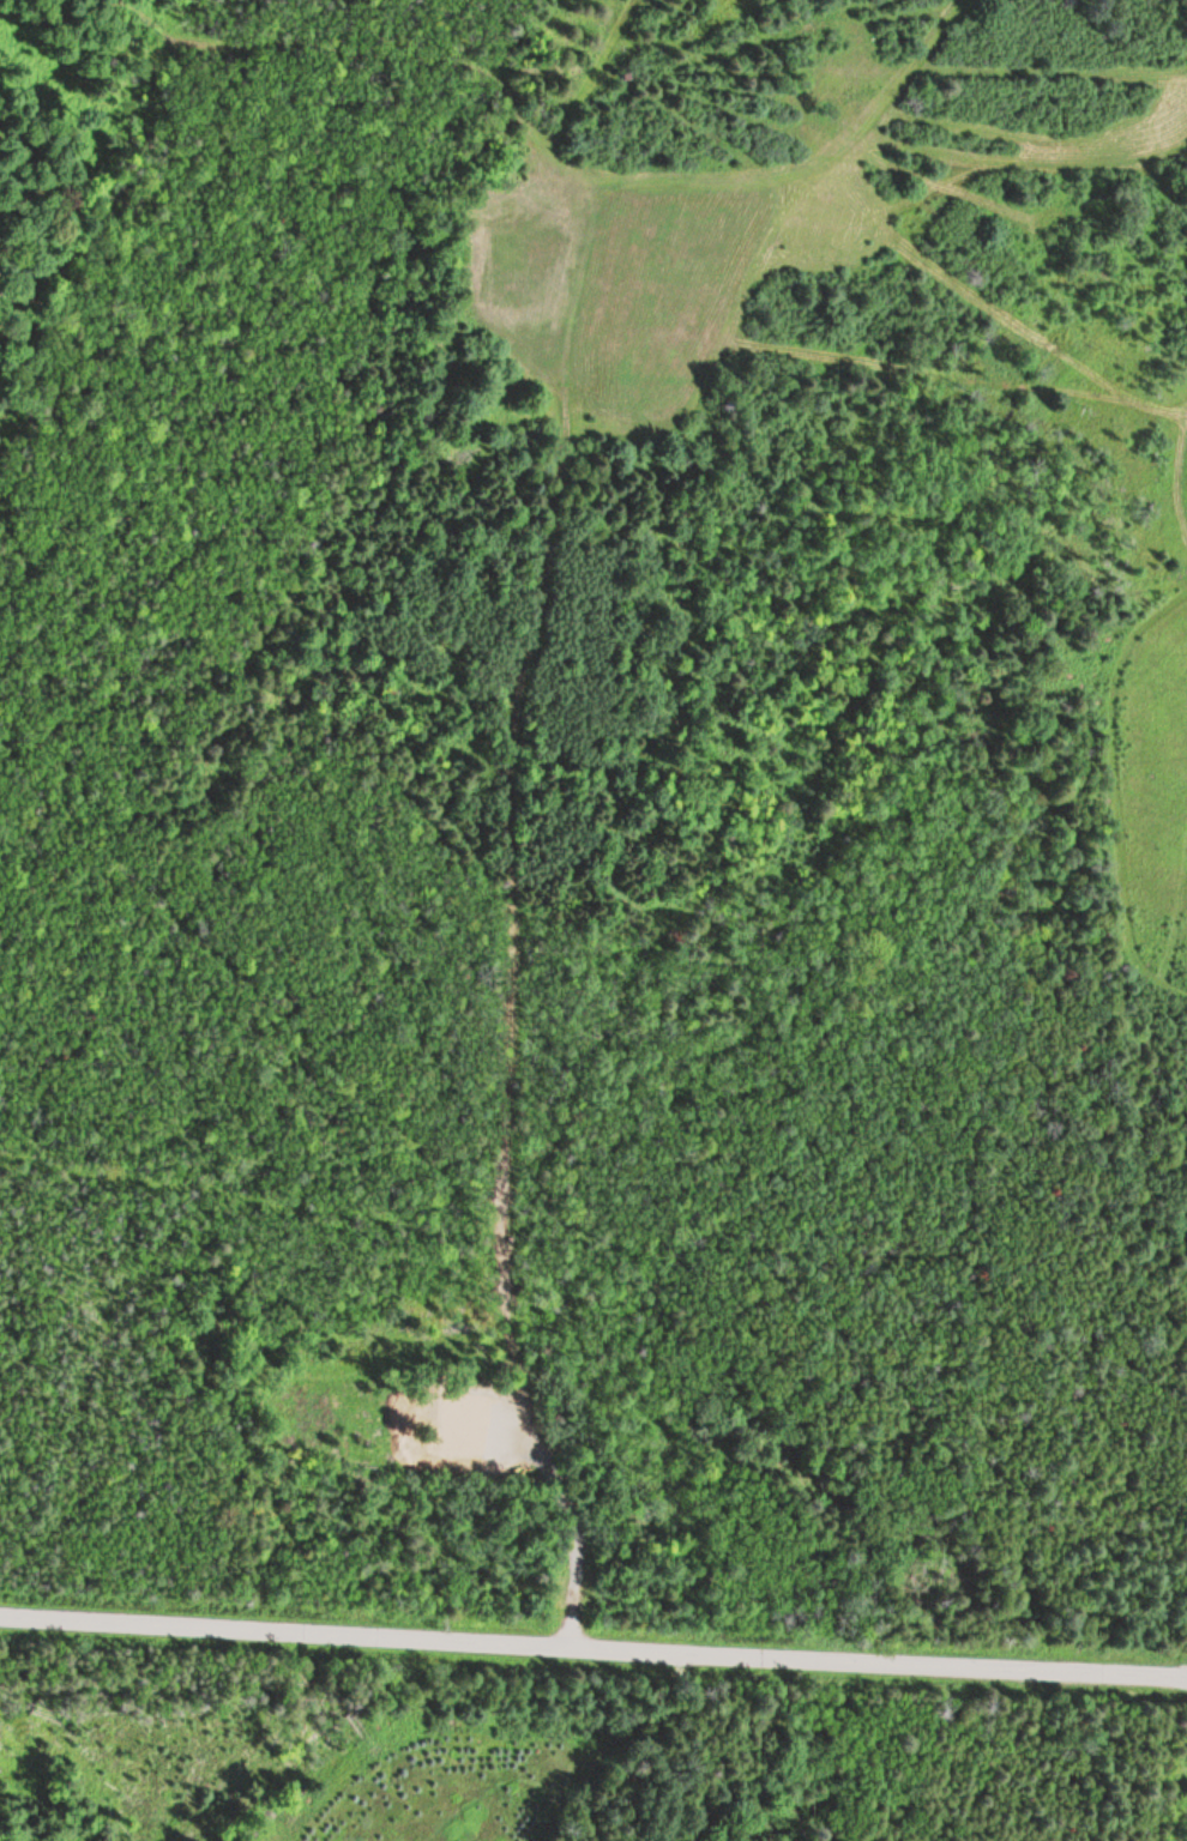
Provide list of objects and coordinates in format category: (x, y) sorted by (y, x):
road: (592, 1652)

